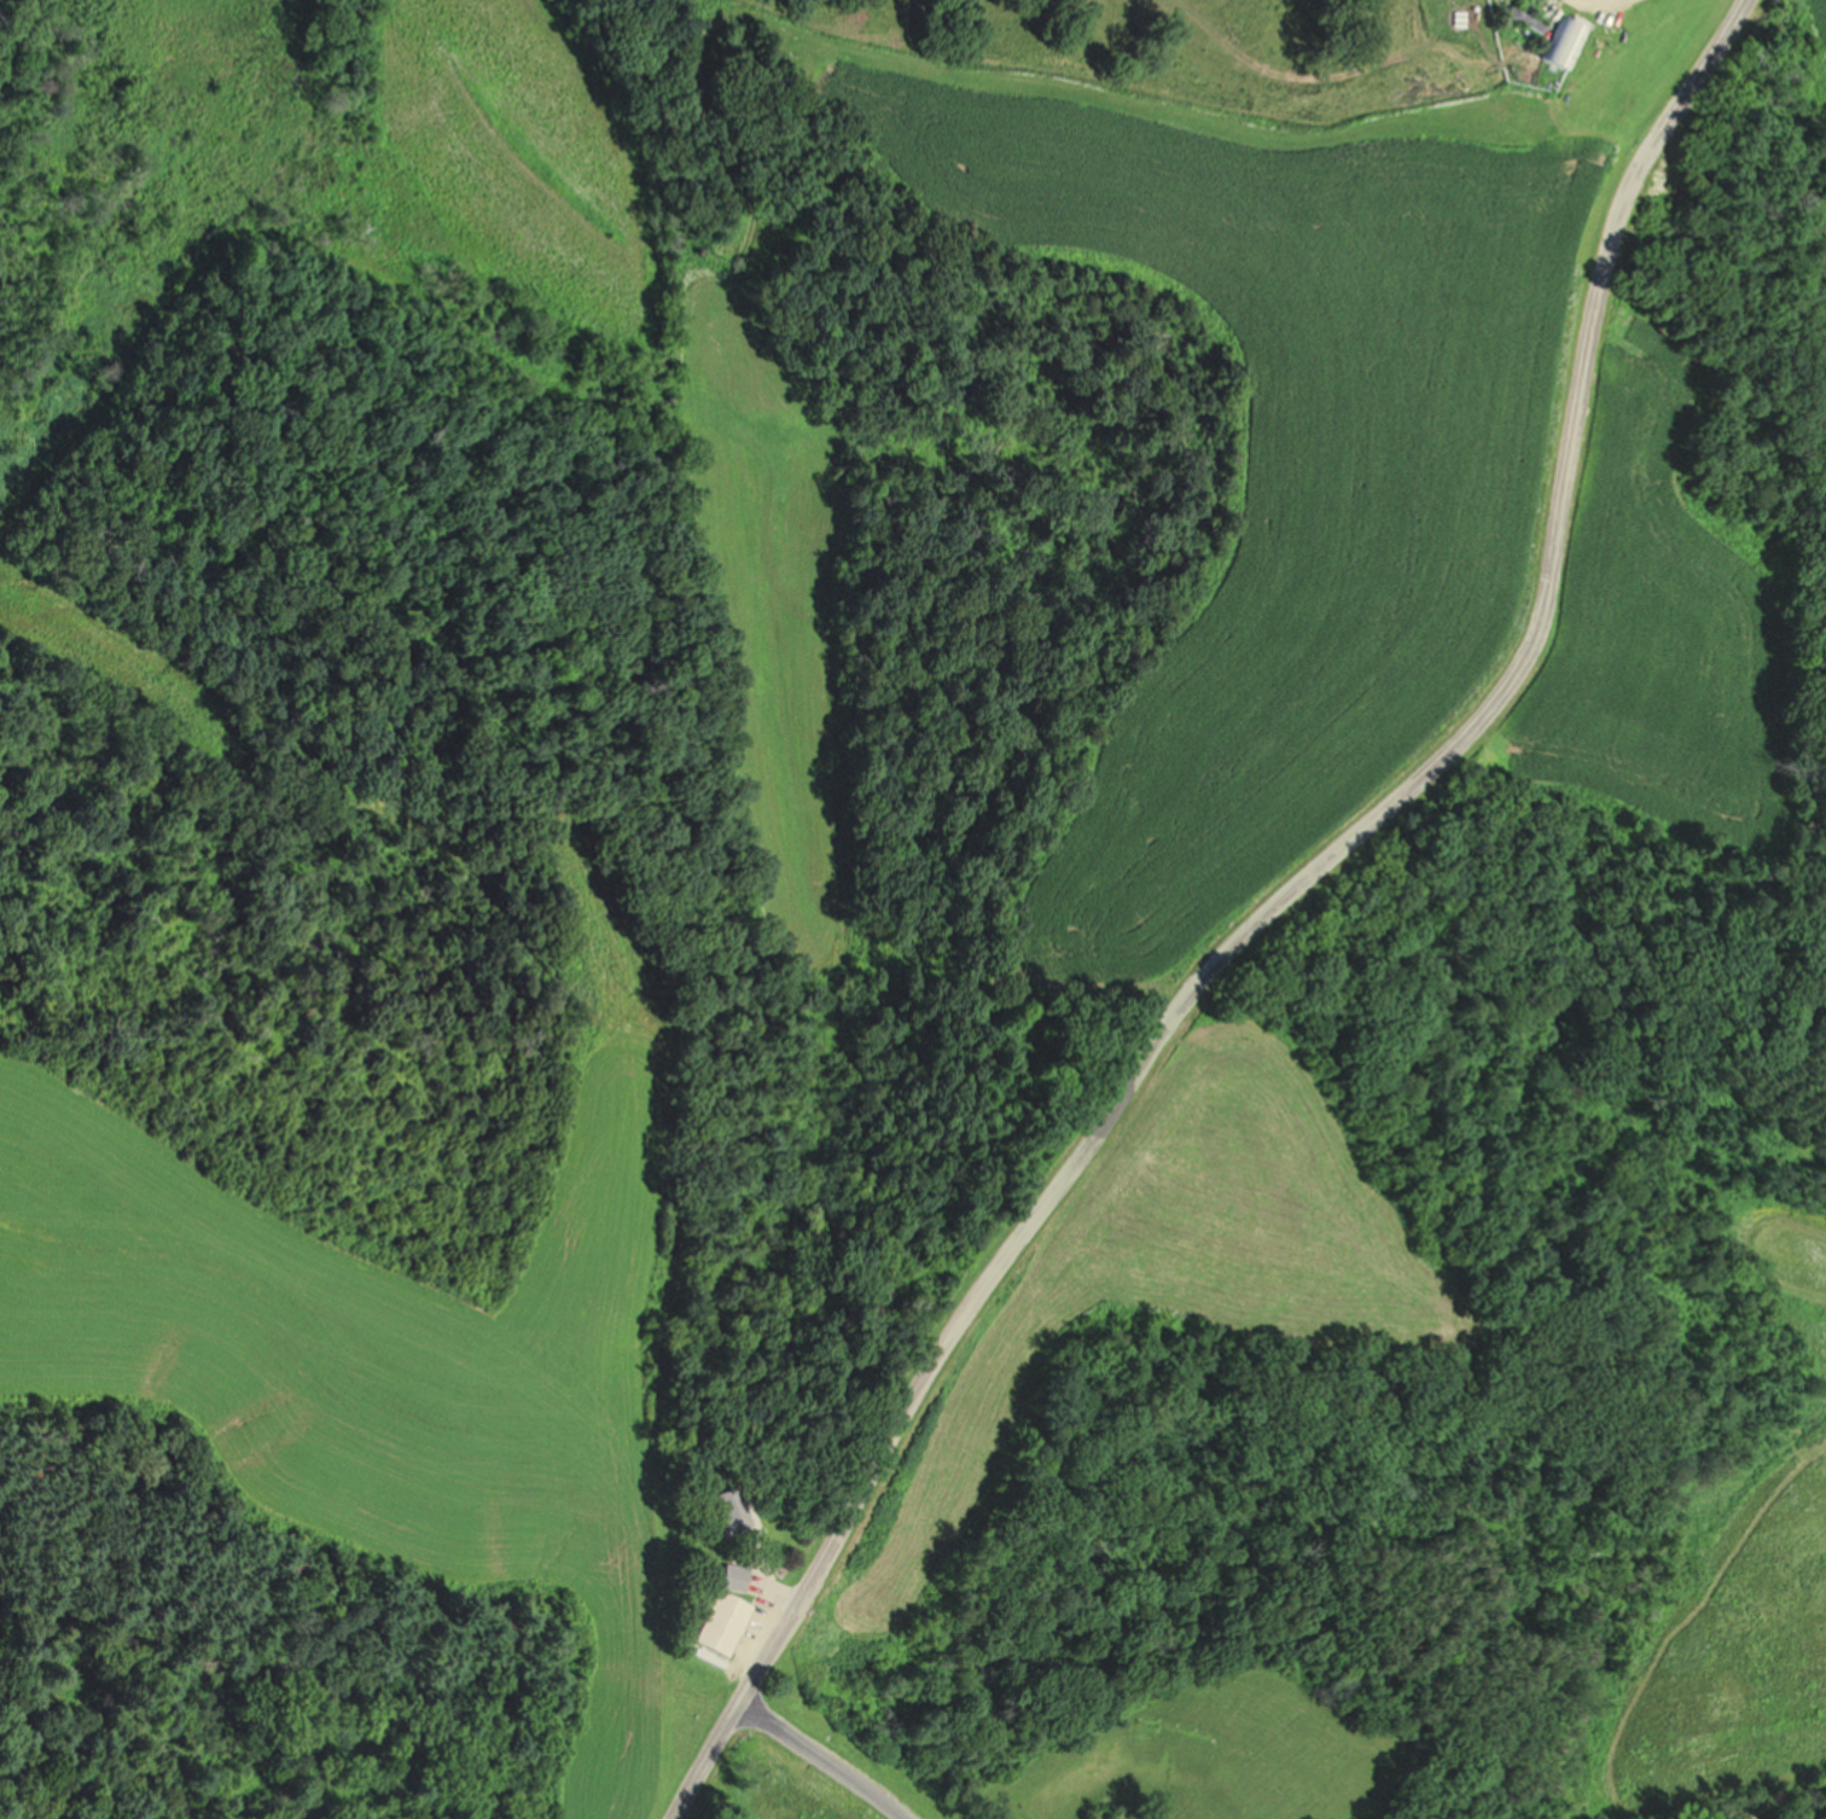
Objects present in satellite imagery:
road: (1609, 12)
building: (1558, 45)
road: (1275, 925)
building: (729, 1509)
building: (723, 1611)
road: (830, 1761)

